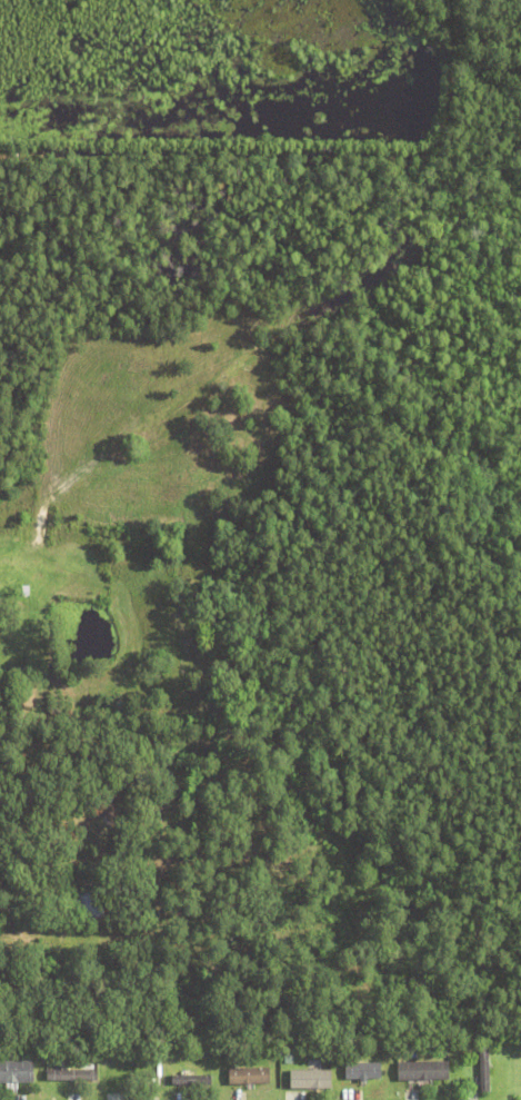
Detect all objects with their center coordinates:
building: (92, 906)
building: (234, 1057)
building: (360, 1070)
building: (422, 1071)
building: (483, 1071)
building: (16, 1072)
building: (249, 1076)
building: (72, 1077)
building: (192, 1077)
building: (310, 1080)
building: (364, 1080)

